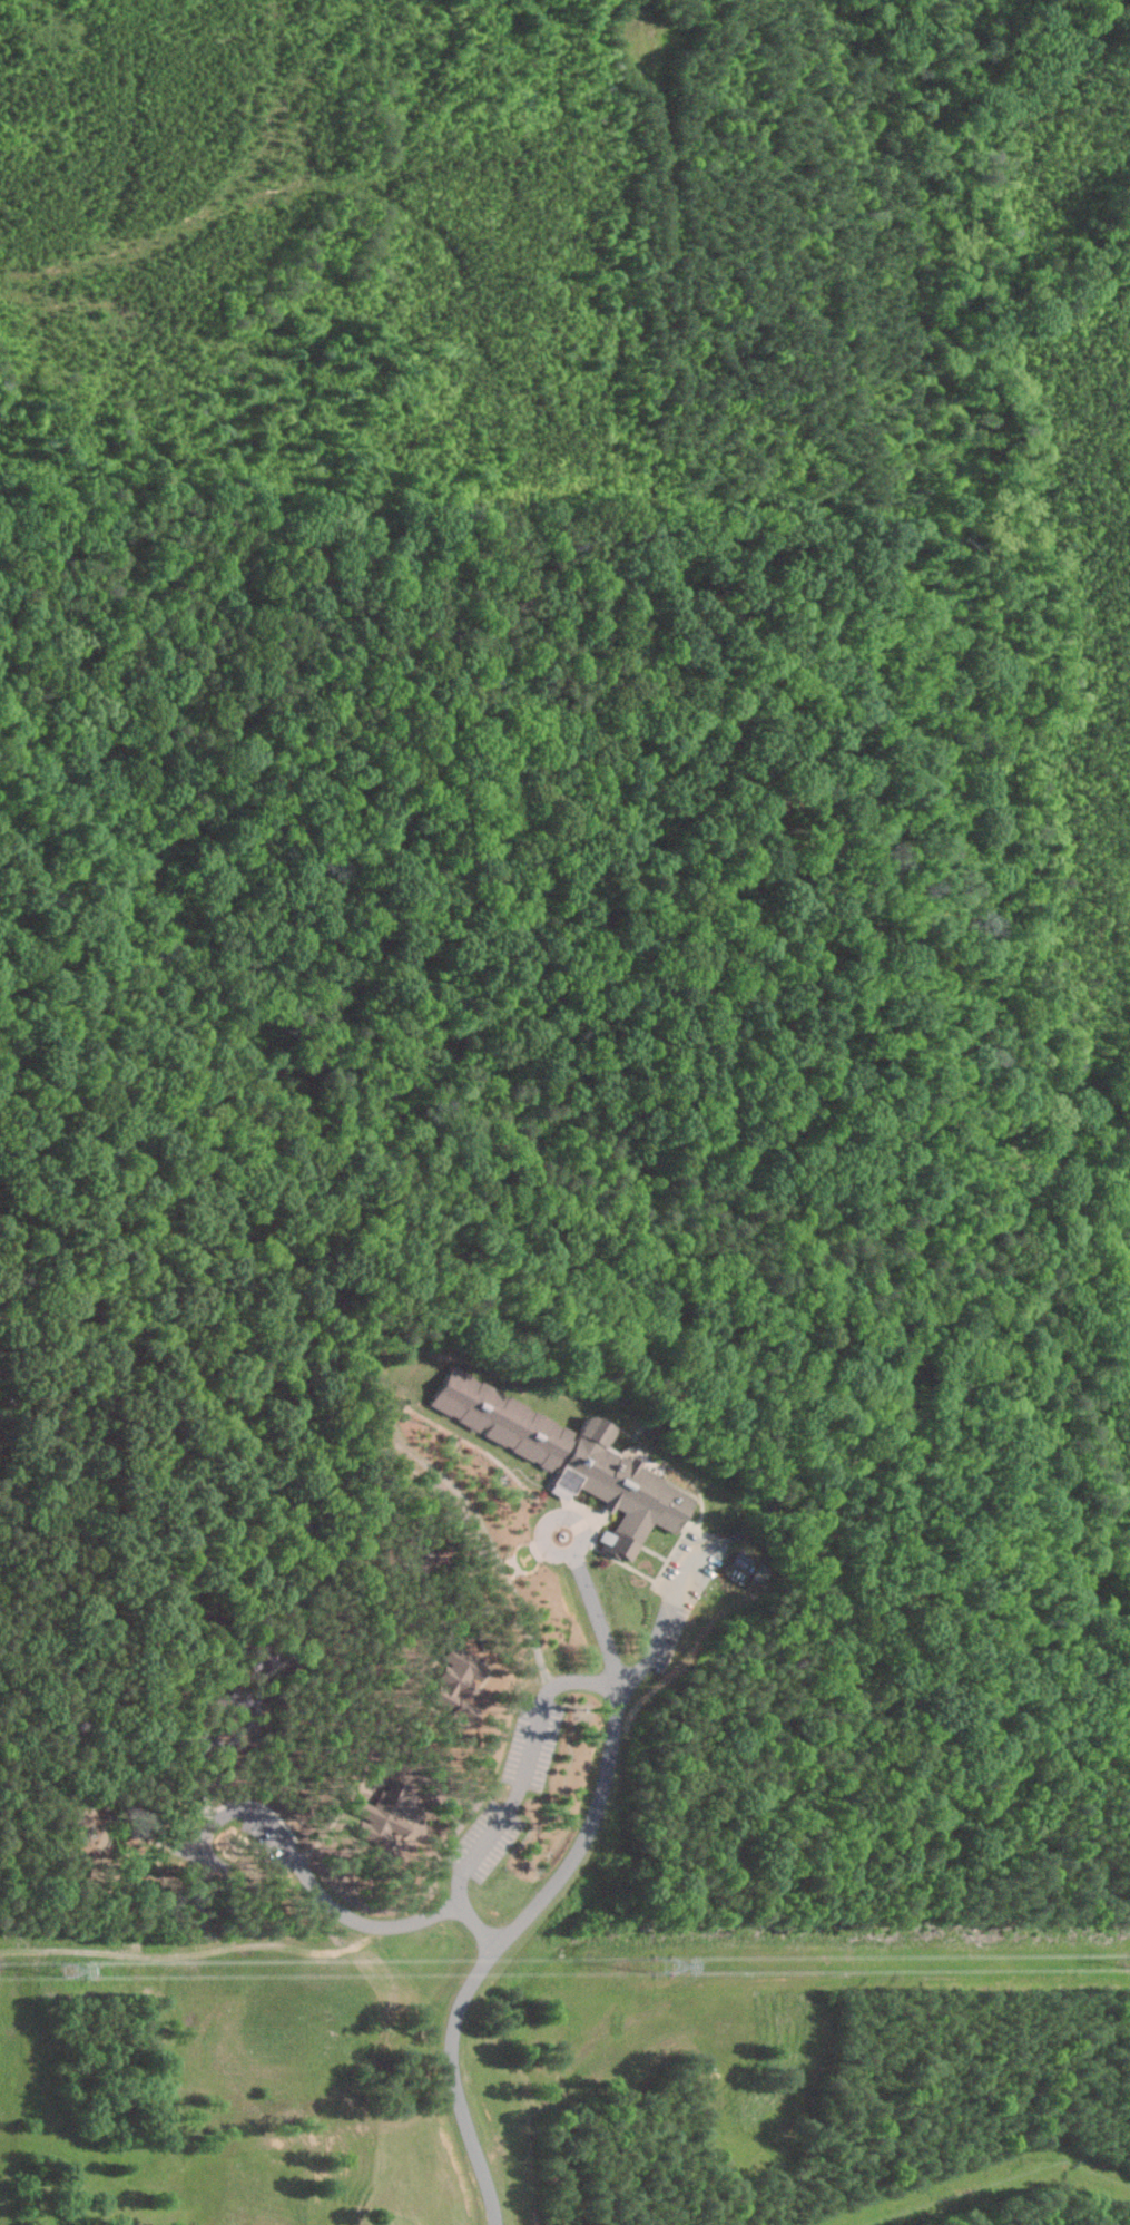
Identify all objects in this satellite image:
building: (569, 1460)
building: (744, 1569)
road: (609, 1633)
building: (456, 1677)
road: (521, 1786)
building: (379, 1802)
road: (312, 1878)
road: (548, 1886)
power tower: (627, 1969)
power tower: (70, 1971)

